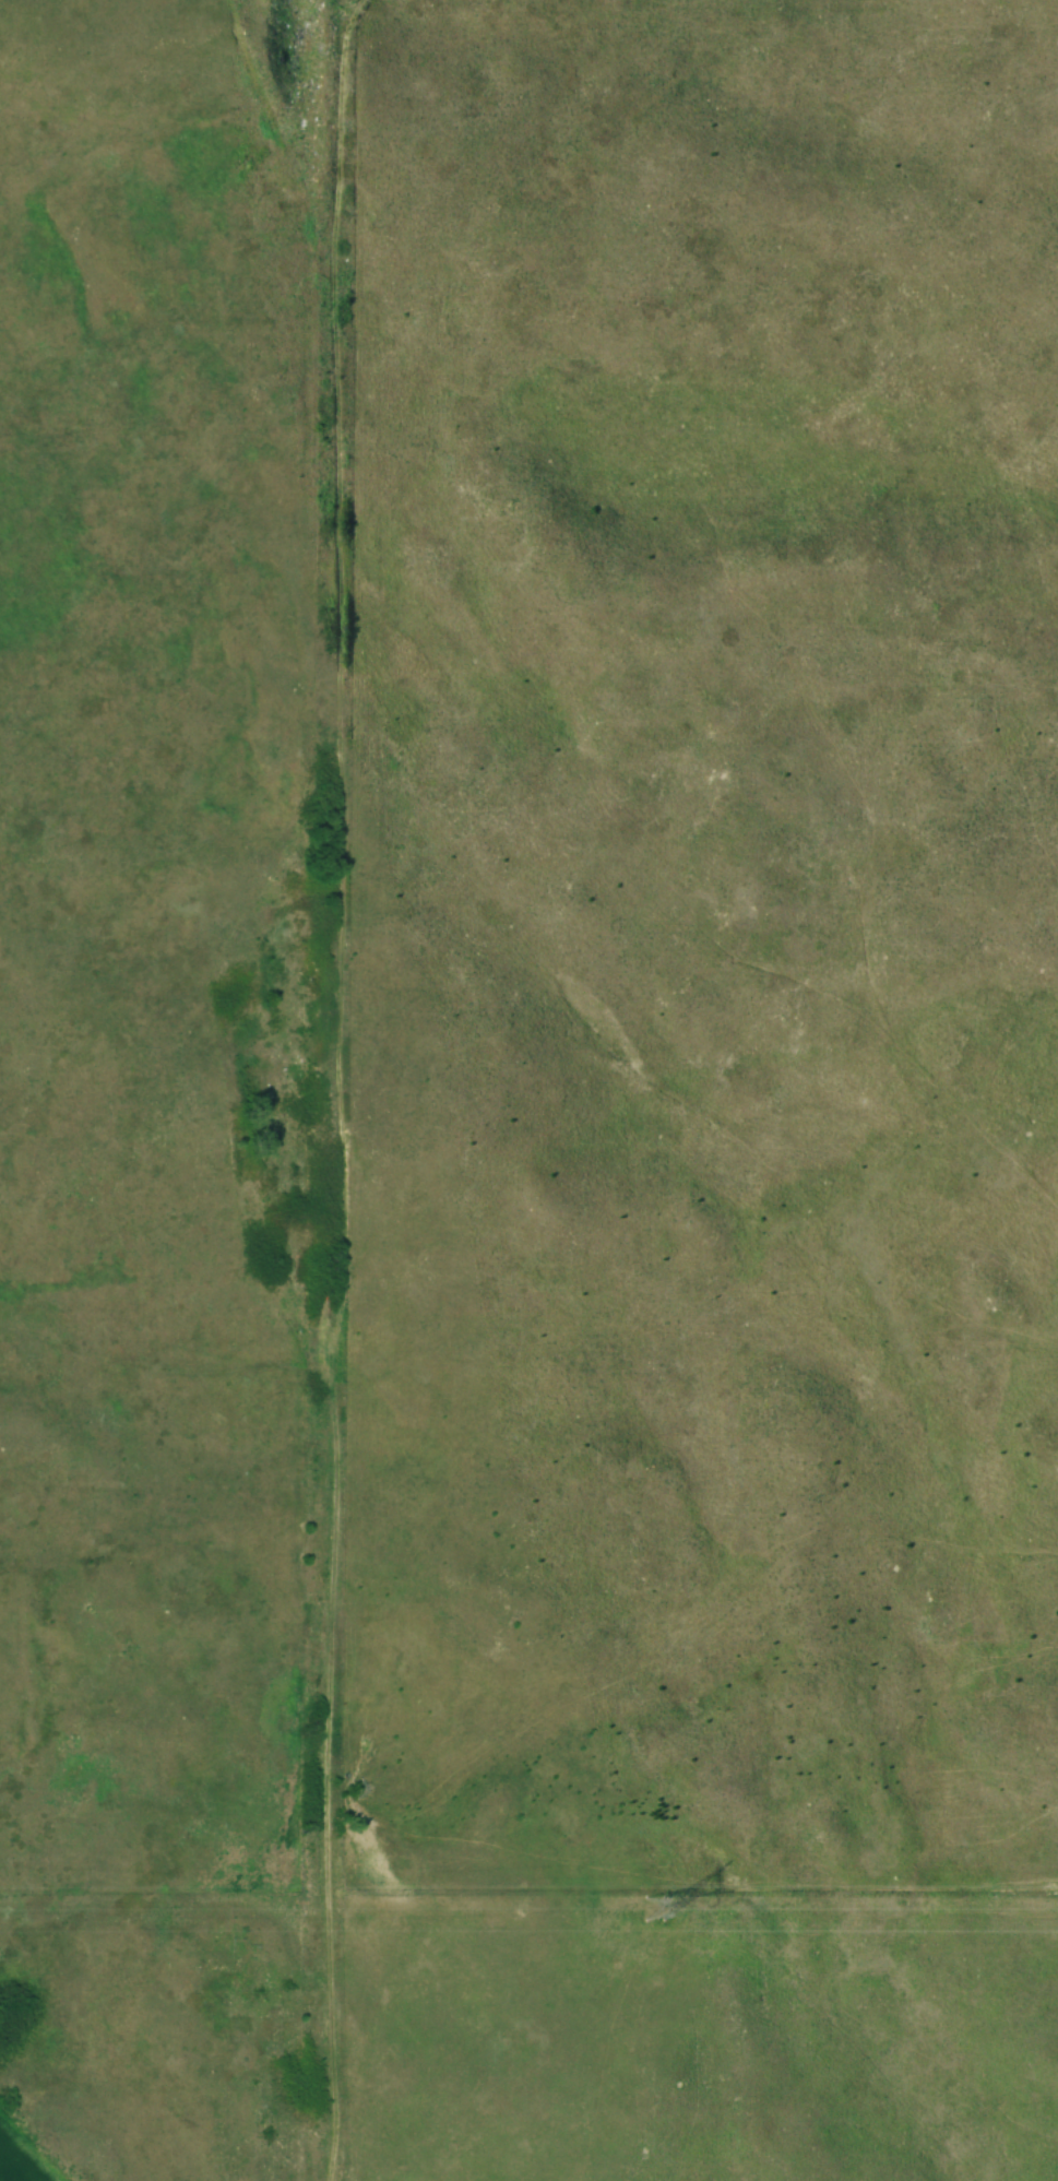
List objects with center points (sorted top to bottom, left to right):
power tower: (655, 1908)

